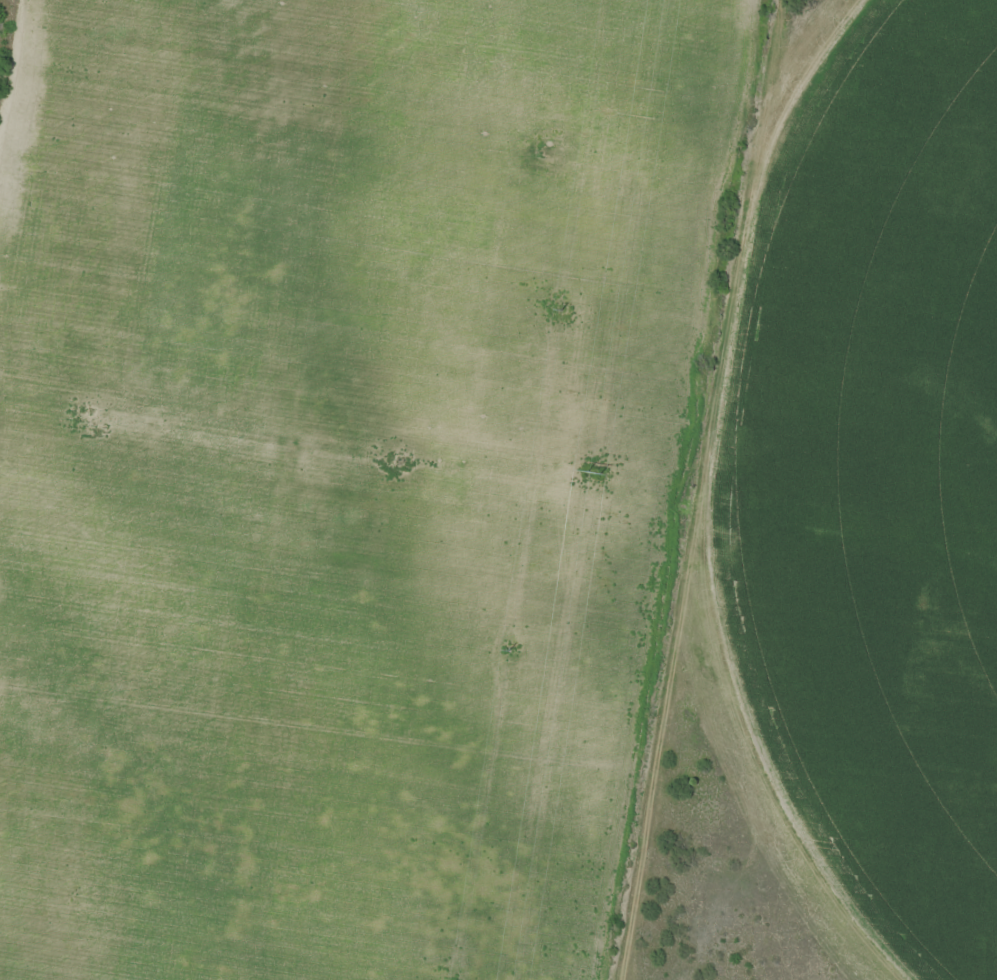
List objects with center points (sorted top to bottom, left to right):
power tower: (592, 472)
road: (680, 490)

